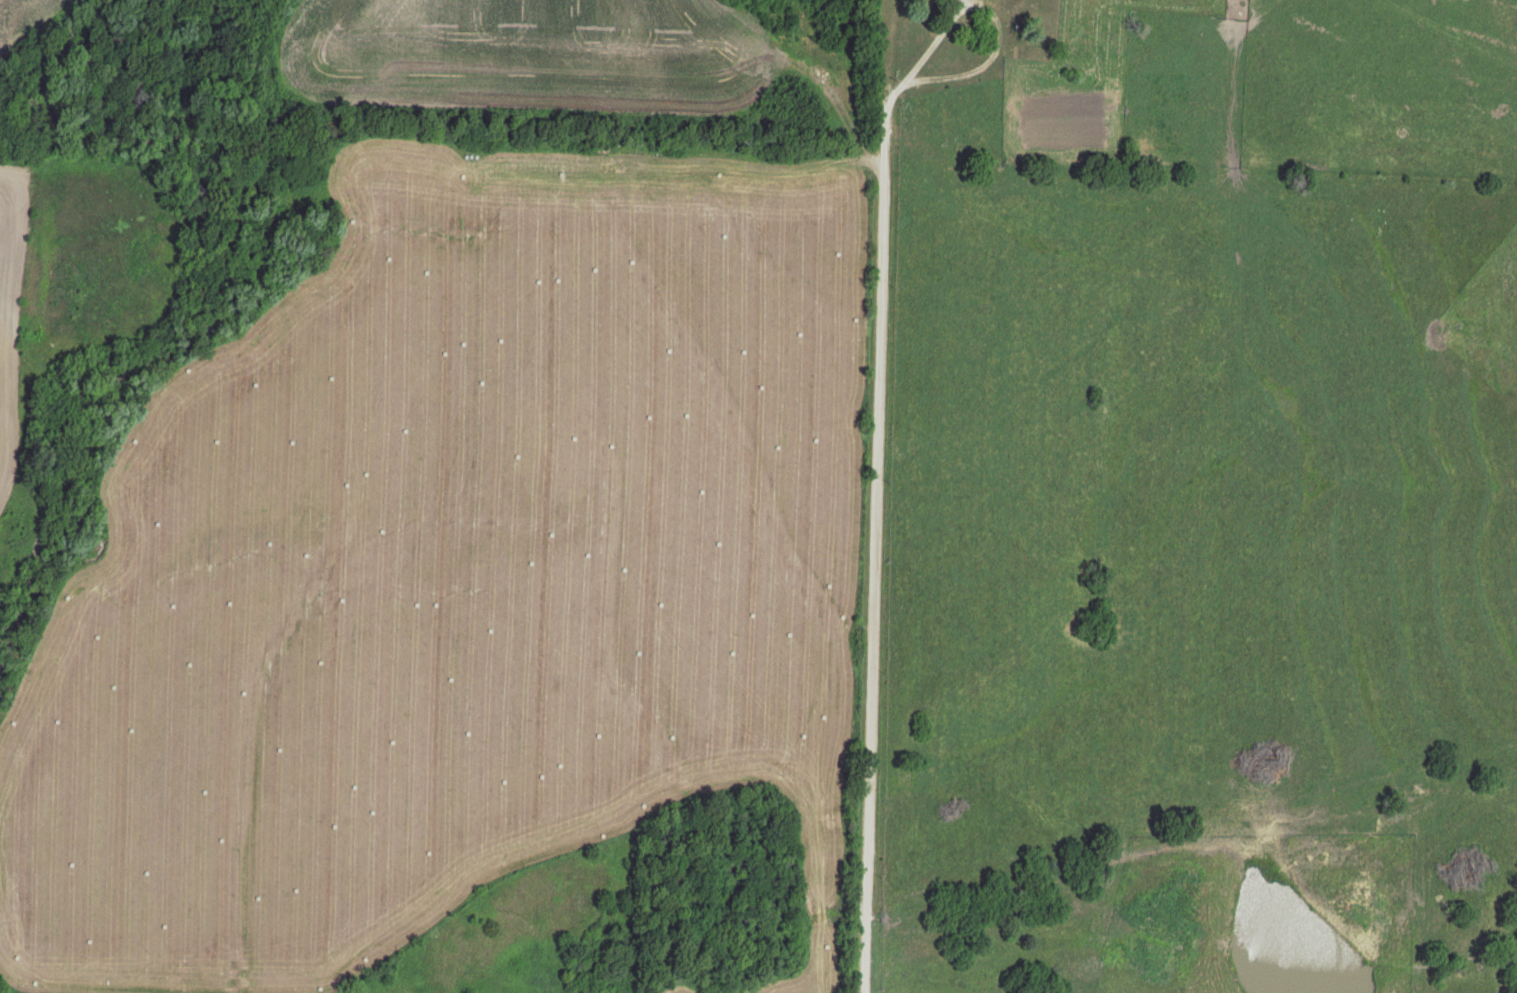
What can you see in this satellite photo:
road: (988, 19)
road: (877, 533)

